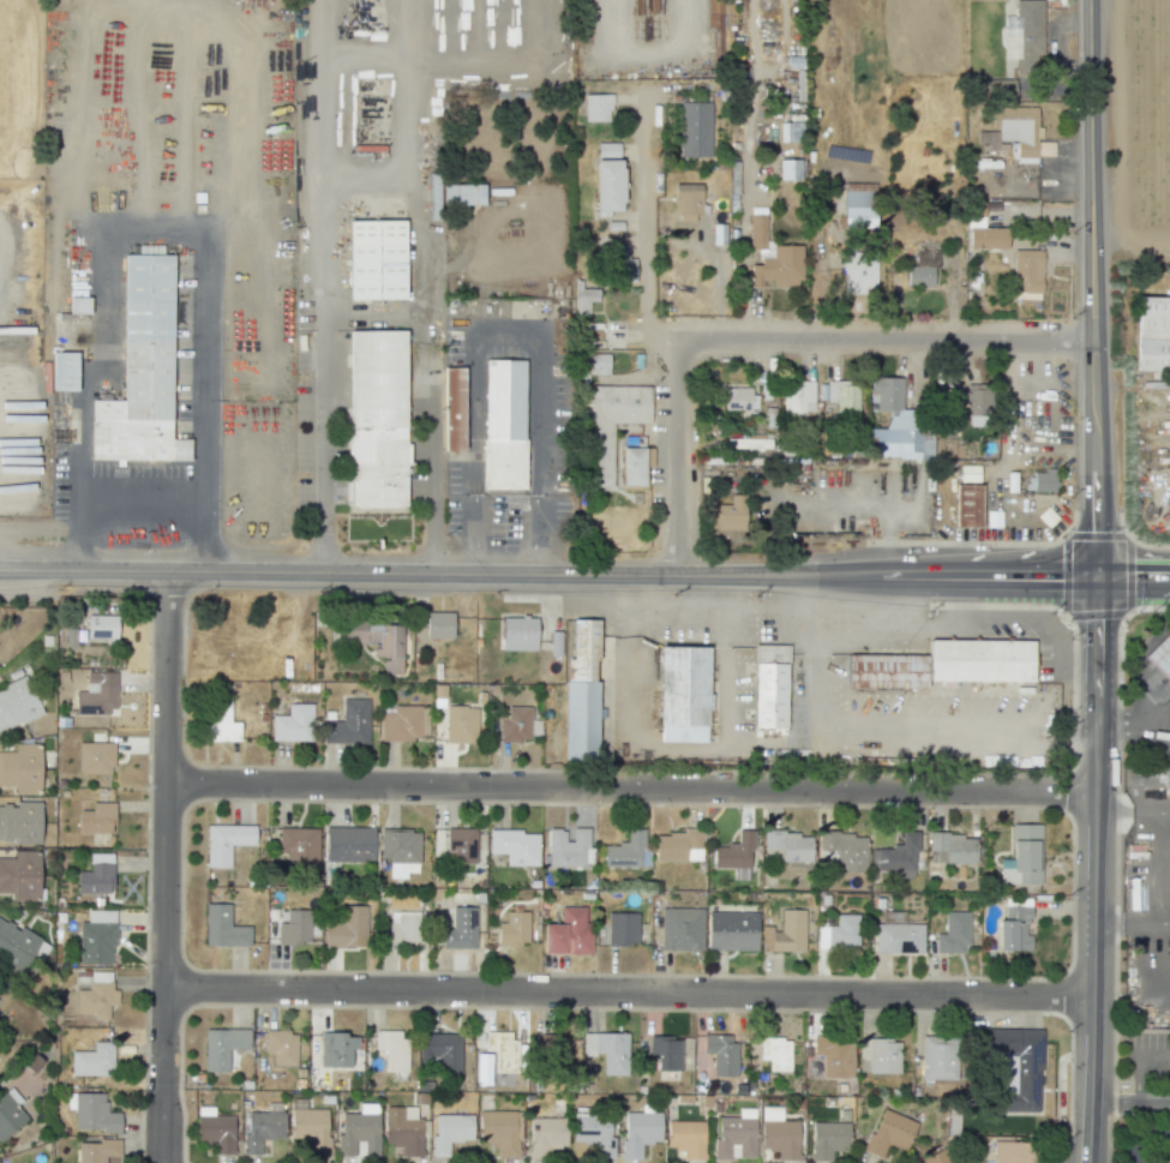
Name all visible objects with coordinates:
building: (1024, 36)
road: (644, 54)
crop: (19, 88)
building: (598, 107)
crop: (1148, 115)
building: (695, 128)
building: (790, 131)
building: (1020, 134)
building: (607, 149)
road: (373, 167)
building: (790, 169)
building: (607, 186)
building: (463, 194)
building: (686, 202)
building: (858, 208)
road: (744, 214)
road: (644, 228)
road: (148, 232)
building: (986, 238)
building: (773, 258)
building: (377, 259)
building: (618, 264)
building: (923, 269)
building: (858, 272)
road: (328, 286)
road: (424, 286)
road: (1092, 288)
building: (584, 299)
building: (79, 305)
road: (376, 313)
road: (503, 330)
building: (1152, 334)
road: (773, 338)
building: (143, 370)
building: (64, 371)
building: (377, 377)
building: (844, 396)
building: (798, 397)
building: (504, 398)
building: (737, 400)
building: (977, 400)
building: (454, 408)
building: (604, 419)
building: (896, 424)
building: (748, 442)
building: (504, 463)
building: (377, 464)
building: (632, 466)
building: (1040, 480)
road: (143, 502)
building: (967, 505)
building: (728, 515)
traffic signals: (1096, 528)
road: (547, 574)
traffic signals: (1057, 577)
road: (1133, 577)
traffic signals: (1139, 577)
building: (438, 624)
traffic signals: (1097, 624)
building: (102, 627)
building: (518, 634)
building: (376, 641)
building: (1160, 657)
road: (721, 661)
building: (983, 661)
building: (888, 671)
building: (772, 688)
building: (685, 689)
building: (96, 694)
building: (584, 694)
building: (17, 705)
building: (221, 723)
road: (1133, 723)
building: (293, 724)
building: (348, 724)
building: (401, 724)
building: (460, 724)
building: (515, 724)
road: (884, 724)
road: (647, 747)
building: (95, 757)
building: (20, 768)
street lamp: (144, 785)
road: (630, 787)
road: (1096, 787)
road: (1133, 809)
building: (97, 817)
building: (20, 822)
building: (226, 843)
building: (299, 844)
building: (348, 844)
building: (790, 845)
building: (516, 846)
building: (678, 846)
building: (569, 847)
building: (953, 847)
building: (844, 850)
building: (400, 851)
building: (626, 851)
building: (733, 852)
building: (1022, 856)
building: (894, 857)
road: (164, 867)
building: (20, 875)
building: (96, 875)
road: (1132, 917)
building: (293, 927)
building: (403, 927)
building: (223, 928)
building: (347, 929)
building: (460, 929)
building: (514, 929)
building: (622, 929)
building: (680, 929)
building: (1013, 929)
building: (732, 930)
building: (569, 931)
building: (785, 933)
building: (839, 933)
building: (953, 934)
building: (96, 937)
building: (898, 937)
building: (16, 945)
road: (628, 991)
building: (96, 995)
building: (222, 1047)
building: (281, 1047)
building: (336, 1049)
building: (392, 1049)
building: (558, 1049)
building: (607, 1050)
building: (442, 1051)
building: (665, 1053)
building: (720, 1053)
building: (775, 1053)
building: (499, 1055)
building: (878, 1055)
road: (1150, 1055)
building: (833, 1056)
building: (938, 1057)
building: (92, 1060)
building: (1018, 1065)
road: (1090, 1079)
road: (1129, 1103)
building: (10, 1113)
building: (92, 1113)
building: (215, 1129)
building: (262, 1129)
building: (311, 1129)
building: (359, 1129)
building: (403, 1129)
building: (500, 1131)
building: (450, 1132)
building: (640, 1132)
building: (778, 1133)
building: (889, 1133)
building: (546, 1134)
building: (594, 1134)
building: (734, 1135)
road: (1146, 1135)
building: (686, 1137)
building: (828, 1139)
building: (96, 1150)
building: (1013, 1151)
building: (936, 1157)

